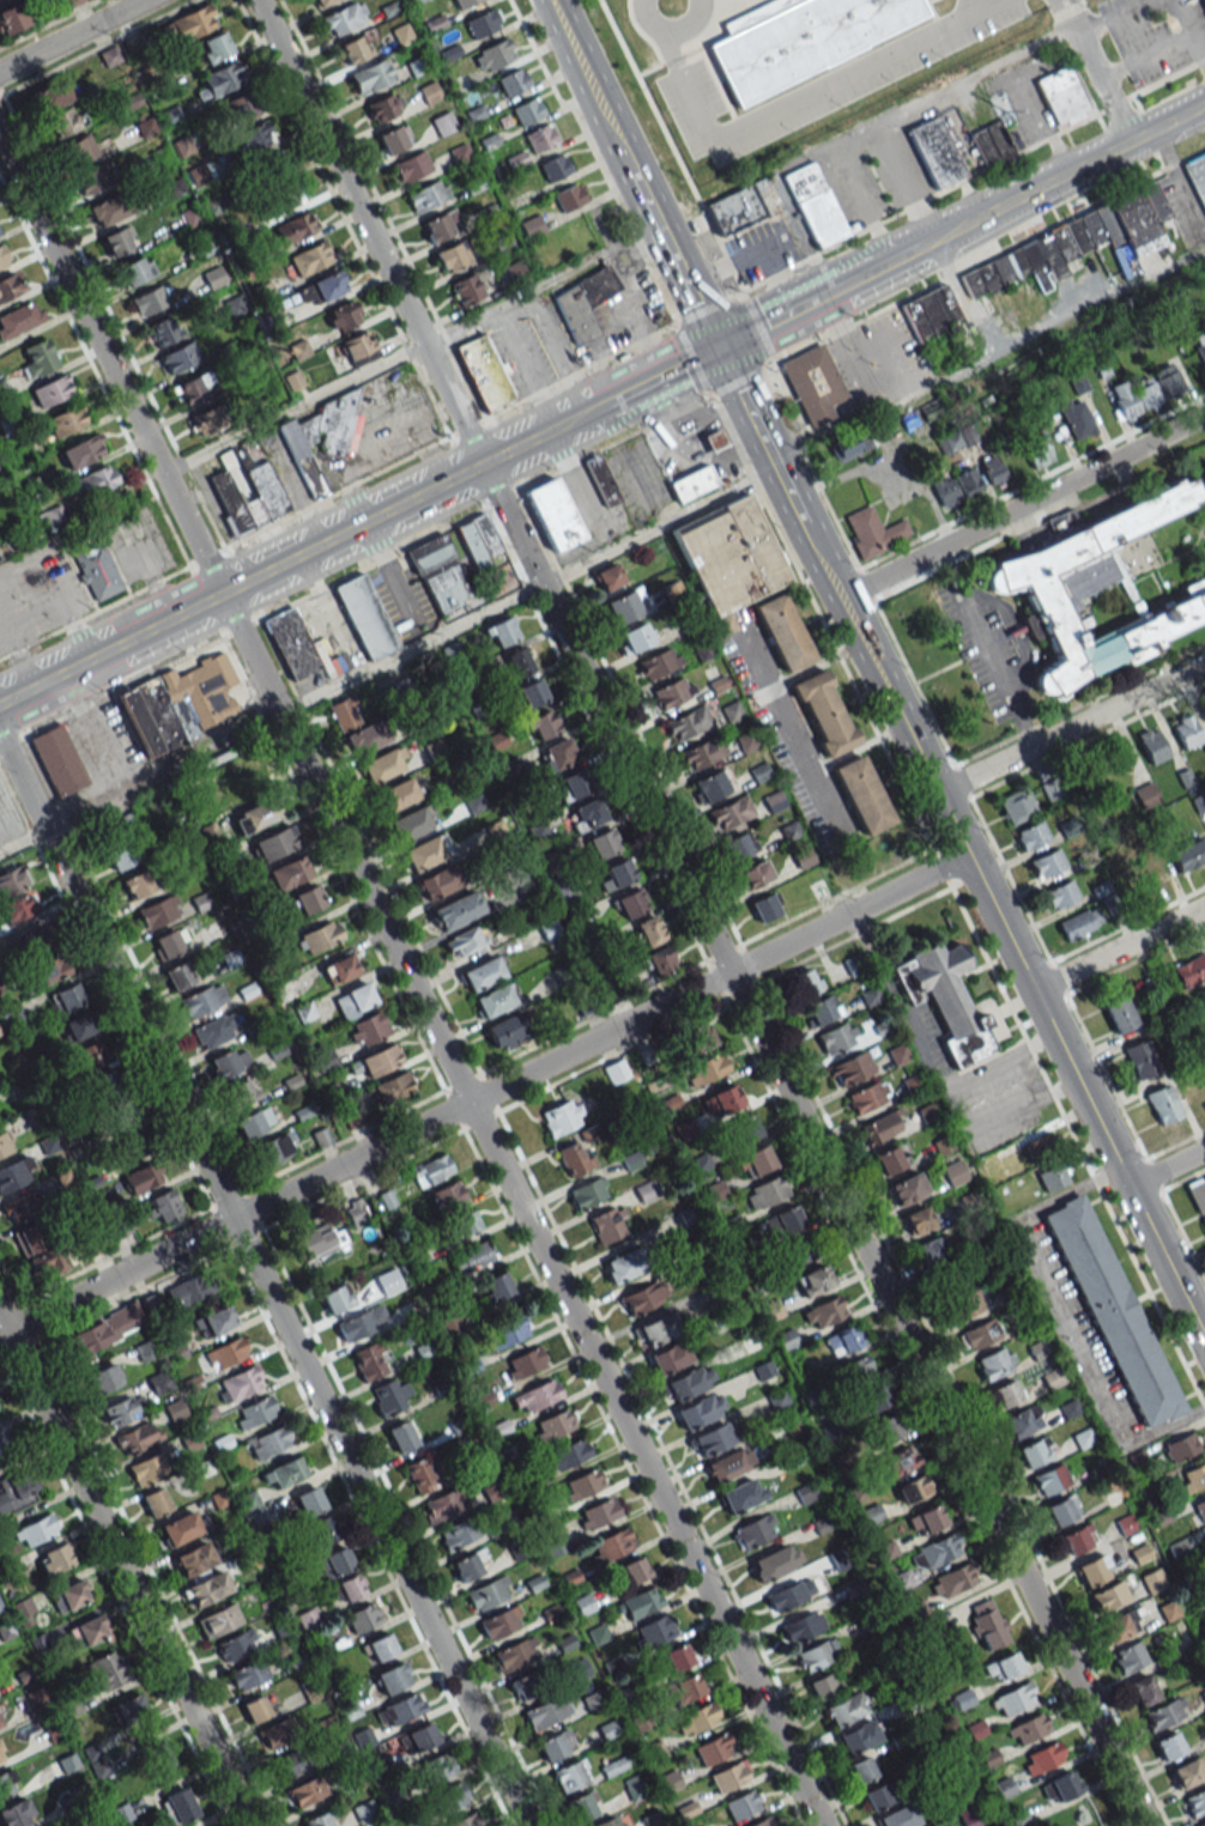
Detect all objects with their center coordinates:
road: (927, 0)
building: (1204, 0)
building: (321, 2)
building: (464, 4)
road: (735, 6)
road: (974, 6)
road: (933, 14)
road: (1107, 14)
road: (1070, 16)
building: (345, 17)
building: (12, 18)
building: (482, 23)
building: (189, 24)
road: (1189, 30)
road: (668, 32)
road: (73, 36)
building: (799, 38)
building: (213, 47)
road: (655, 49)
building: (353, 50)
building: (496, 53)
road: (1145, 55)
building: (109, 56)
road: (704, 56)
road: (649, 69)
building: (371, 77)
building: (222, 78)
building: (511, 81)
parking lot: (821, 81)
road: (1103, 87)
building: (53, 95)
road: (805, 96)
building: (1061, 96)
road: (921, 97)
building: (383, 107)
building: (240, 109)
road: (1039, 109)
building: (526, 111)
building: (66, 120)
building: (443, 123)
building: (254, 137)
building: (539, 137)
building: (394, 138)
building: (995, 140)
road: (671, 146)
building: (79, 150)
building: (459, 153)
building: (411, 166)
building: (553, 168)
building: (1195, 174)
road: (1062, 176)
building: (91, 178)
building: (278, 181)
building: (428, 195)
building: (569, 196)
building: (815, 204)
building: (102, 211)
building: (737, 211)
building: (438, 225)
building: (532, 226)
building: (295, 228)
building: (117, 241)
building: (1067, 244)
building: (1175, 247)
building: (2, 255)
building: (452, 256)
building: (310, 257)
building: (135, 269)
building: (213, 277)
building: (10, 285)
building: (321, 289)
building: (465, 289)
road: (819, 297)
building: (147, 301)
building: (234, 303)
building: (583, 303)
building: (930, 313)
building: (343, 315)
building: (19, 319)
road: (631, 320)
building: (163, 330)
road: (652, 342)
traffic signals: (717, 347)
building: (357, 348)
road: (410, 348)
building: (1200, 350)
building: (38, 357)
building: (178, 357)
road: (989, 359)
building: (484, 372)
road: (665, 374)
building: (1167, 381)
building: (812, 383)
building: (193, 388)
building: (52, 390)
building: (1145, 393)
building: (1122, 400)
building: (933, 411)
building: (1076, 417)
building: (66, 420)
building: (207, 420)
building: (909, 420)
building: (958, 438)
building: (321, 439)
building: (716, 441)
building: (850, 445)
building: (1036, 450)
building: (81, 451)
building: (992, 471)
building: (95, 480)
building: (600, 480)
building: (692, 483)
building: (968, 483)
building: (265, 486)
building: (945, 491)
road: (1023, 505)
building: (553, 514)
building: (49, 515)
building: (1061, 521)
building: (873, 532)
building: (478, 540)
road: (18, 541)
road: (1193, 546)
road: (305, 552)
building: (728, 554)
building: (96, 571)
building: (438, 572)
building: (608, 576)
road: (528, 592)
building: (1056, 592)
building: (666, 594)
building: (625, 605)
building: (364, 615)
building: (502, 631)
building: (783, 632)
building: (636, 636)
building: (291, 644)
road: (986, 647)
building: (517, 661)
building: (659, 662)
road: (815, 662)
road: (878, 671)
building: (672, 692)
building: (532, 693)
building: (178, 703)
building: (824, 712)
building: (688, 722)
building: (543, 724)
building: (358, 726)
road: (1071, 727)
building: (1187, 732)
road: (787, 735)
building: (1151, 745)
building: (1204, 747)
building: (700, 753)
building: (557, 754)
building: (57, 760)
building: (383, 764)
building: (243, 775)
building: (1095, 778)
building: (573, 785)
building: (709, 785)
building: (399, 793)
building: (861, 795)
building: (1145, 795)
road: (111, 800)
building: (1017, 806)
building: (731, 812)
building: (586, 814)
building: (254, 815)
parking lot: (8, 819)
building: (410, 824)
building: (537, 829)
building: (1031, 835)
building: (273, 843)
building: (600, 844)
building: (739, 845)
building: (125, 847)
building: (425, 851)
building: (1188, 855)
building: (1046, 863)
building: (289, 872)
building: (617, 874)
building: (755, 874)
building: (1148, 875)
building: (13, 880)
building: (437, 881)
building: (137, 884)
building: (1060, 894)
building: (308, 898)
building: (630, 903)
building: (767, 906)
building: (18, 908)
building: (455, 909)
building: (158, 911)
road: (701, 912)
building: (1079, 922)
building: (649, 930)
building: (40, 936)
building: (319, 936)
building: (464, 941)
building: (169, 942)
road: (1119, 950)
building: (661, 960)
building: (338, 969)
building: (1191, 970)
building: (42, 972)
building: (482, 973)
building: (178, 975)
road: (410, 983)
building: (805, 983)
building: (67, 997)
building: (944, 999)
building: (202, 1000)
building: (355, 1001)
building: (492, 1001)
building: (819, 1009)
building: (1119, 1013)
building: (78, 1026)
building: (368, 1029)
building: (216, 1030)
building: (503, 1033)
building: (836, 1037)
building: (696, 1041)
building: (90, 1056)
building: (1140, 1058)
building: (380, 1060)
road: (924, 1061)
building: (229, 1062)
building: (708, 1067)
building: (850, 1068)
building: (614, 1072)
building: (392, 1086)
building: (107, 1090)
building: (242, 1091)
road: (483, 1094)
building: (868, 1096)
building: (723, 1100)
building: (1162, 1104)
building: (562, 1116)
road: (998, 1121)
building: (254, 1122)
building: (882, 1126)
building: (745, 1129)
building: (120, 1140)
building: (5, 1143)
road: (1077, 1147)
building: (272, 1149)
building: (574, 1158)
building: (889, 1159)
building: (755, 1161)
road: (1167, 1167)
building: (431, 1170)
building: (14, 1172)
building: (955, 1172)
building: (143, 1177)
building: (1052, 1177)
building: (906, 1188)
building: (765, 1191)
building: (450, 1193)
building: (587, 1193)
building: (1197, 1193)
building: (164, 1206)
building: (19, 1209)
building: (355, 1213)
building: (918, 1219)
building: (783, 1221)
building: (1203, 1221)
building: (466, 1223)
building: (608, 1224)
building: (320, 1240)
building: (38, 1250)
building: (795, 1251)
building: (930, 1251)
building: (471, 1257)
building: (623, 1266)
building: (947, 1279)
road: (262, 1280)
building: (812, 1280)
building: (496, 1286)
building: (187, 1290)
building: (643, 1297)
building: (335, 1298)
building: (964, 1305)
building: (823, 1311)
building: (1114, 1314)
building: (213, 1321)
road: (1065, 1321)
building: (361, 1323)
building: (452, 1327)
building: (105, 1329)
building: (505, 1330)
building: (653, 1330)
building: (977, 1335)
building: (844, 1339)
building: (226, 1353)
building: (668, 1358)
building: (370, 1360)
building: (523, 1363)
building: (993, 1363)
building: (860, 1367)
building: (103, 1378)
building: (238, 1383)
building: (686, 1383)
building: (1005, 1393)
building: (535, 1395)
building: (390, 1396)
building: (876, 1397)
building: (123, 1411)
building: (254, 1412)
building: (697, 1412)
building: (1017, 1422)
building: (552, 1425)
building: (886, 1427)
building: (402, 1436)
building: (137, 1438)
building: (714, 1438)
building: (6, 1439)
building: (270, 1442)
building: (1181, 1446)
building: (1035, 1451)
building: (568, 1454)
building: (900, 1460)
building: (728, 1464)
building: (147, 1469)
building: (290, 1469)
building: (419, 1475)
building: (1195, 1475)
building: (1048, 1480)
building: (582, 1484)
building: (912, 1488)
building: (17, 1492)
building: (741, 1494)
building: (309, 1502)
building: (155, 1503)
building: (441, 1505)
building: (1203, 1505)
building: (1059, 1511)
building: (598, 1513)
building: (926, 1519)
building: (180, 1528)
building: (36, 1530)
building: (753, 1531)
building: (322, 1533)
building: (455, 1535)
building: (1073, 1540)
building: (611, 1545)
building: (935, 1551)
building: (54, 1559)
building: (194, 1559)
building: (774, 1561)
building: (334, 1563)
building: (465, 1567)
road: (123, 1570)
building: (634, 1570)
building: (1090, 1571)
building: (952, 1579)
building: (349, 1588)
building: (205, 1589)
building: (489, 1593)
building: (789, 1594)
building: (69, 1595)
building: (1108, 1595)
building: (641, 1602)
building: (363, 1616)
building: (220, 1620)
building: (501, 1622)
building: (987, 1624)
building: (1119, 1625)
building: (801, 1626)
building: (87, 1631)
building: (655, 1631)
building: (235, 1644)
building: (380, 1648)
building: (816, 1654)
building: (515, 1655)
building: (1130, 1655)
building: (671, 1661)
building: (1003, 1667)
building: (108, 1669)
building: (247, 1674)
building: (393, 1678)
building: (527, 1684)
building: (823, 1685)
building: (684, 1687)
building: (1143, 1689)
building: (1013, 1699)
building: (402, 1707)
building: (129, 1709)
building: (255, 1709)
building: (843, 1709)
building: (545, 1712)
building: (1164, 1712)
building: (696, 1718)
building: (0, 1723)
building: (1029, 1728)
building: (277, 1734)
building: (859, 1736)
building: (420, 1737)
building: (1167, 1746)
building: (551, 1747)
building: (713, 1749)
building: (157, 1754)
building: (1, 1755)
building: (1046, 1755)
building: (289, 1764)
building: (616, 1765)
building: (438, 1766)
building: (861, 1769)
building: (1185, 1772)
building: (571, 1775)
building: (727, 1777)
building: (7, 1783)
building: (1066, 1784)
building: (307, 1791)
building: (450, 1796)
building: (876, 1796)
building: (1195, 1803)
building: (176, 1806)
building: (582, 1806)
building: (740, 1806)
building: (16, 1813)
building: (974, 1816)
building: (894, 1818)
building: (321, 1819)
building: (467, 1820)
building: (610, 1821)
building: (758, 1822)
building: (1201, 1824)

